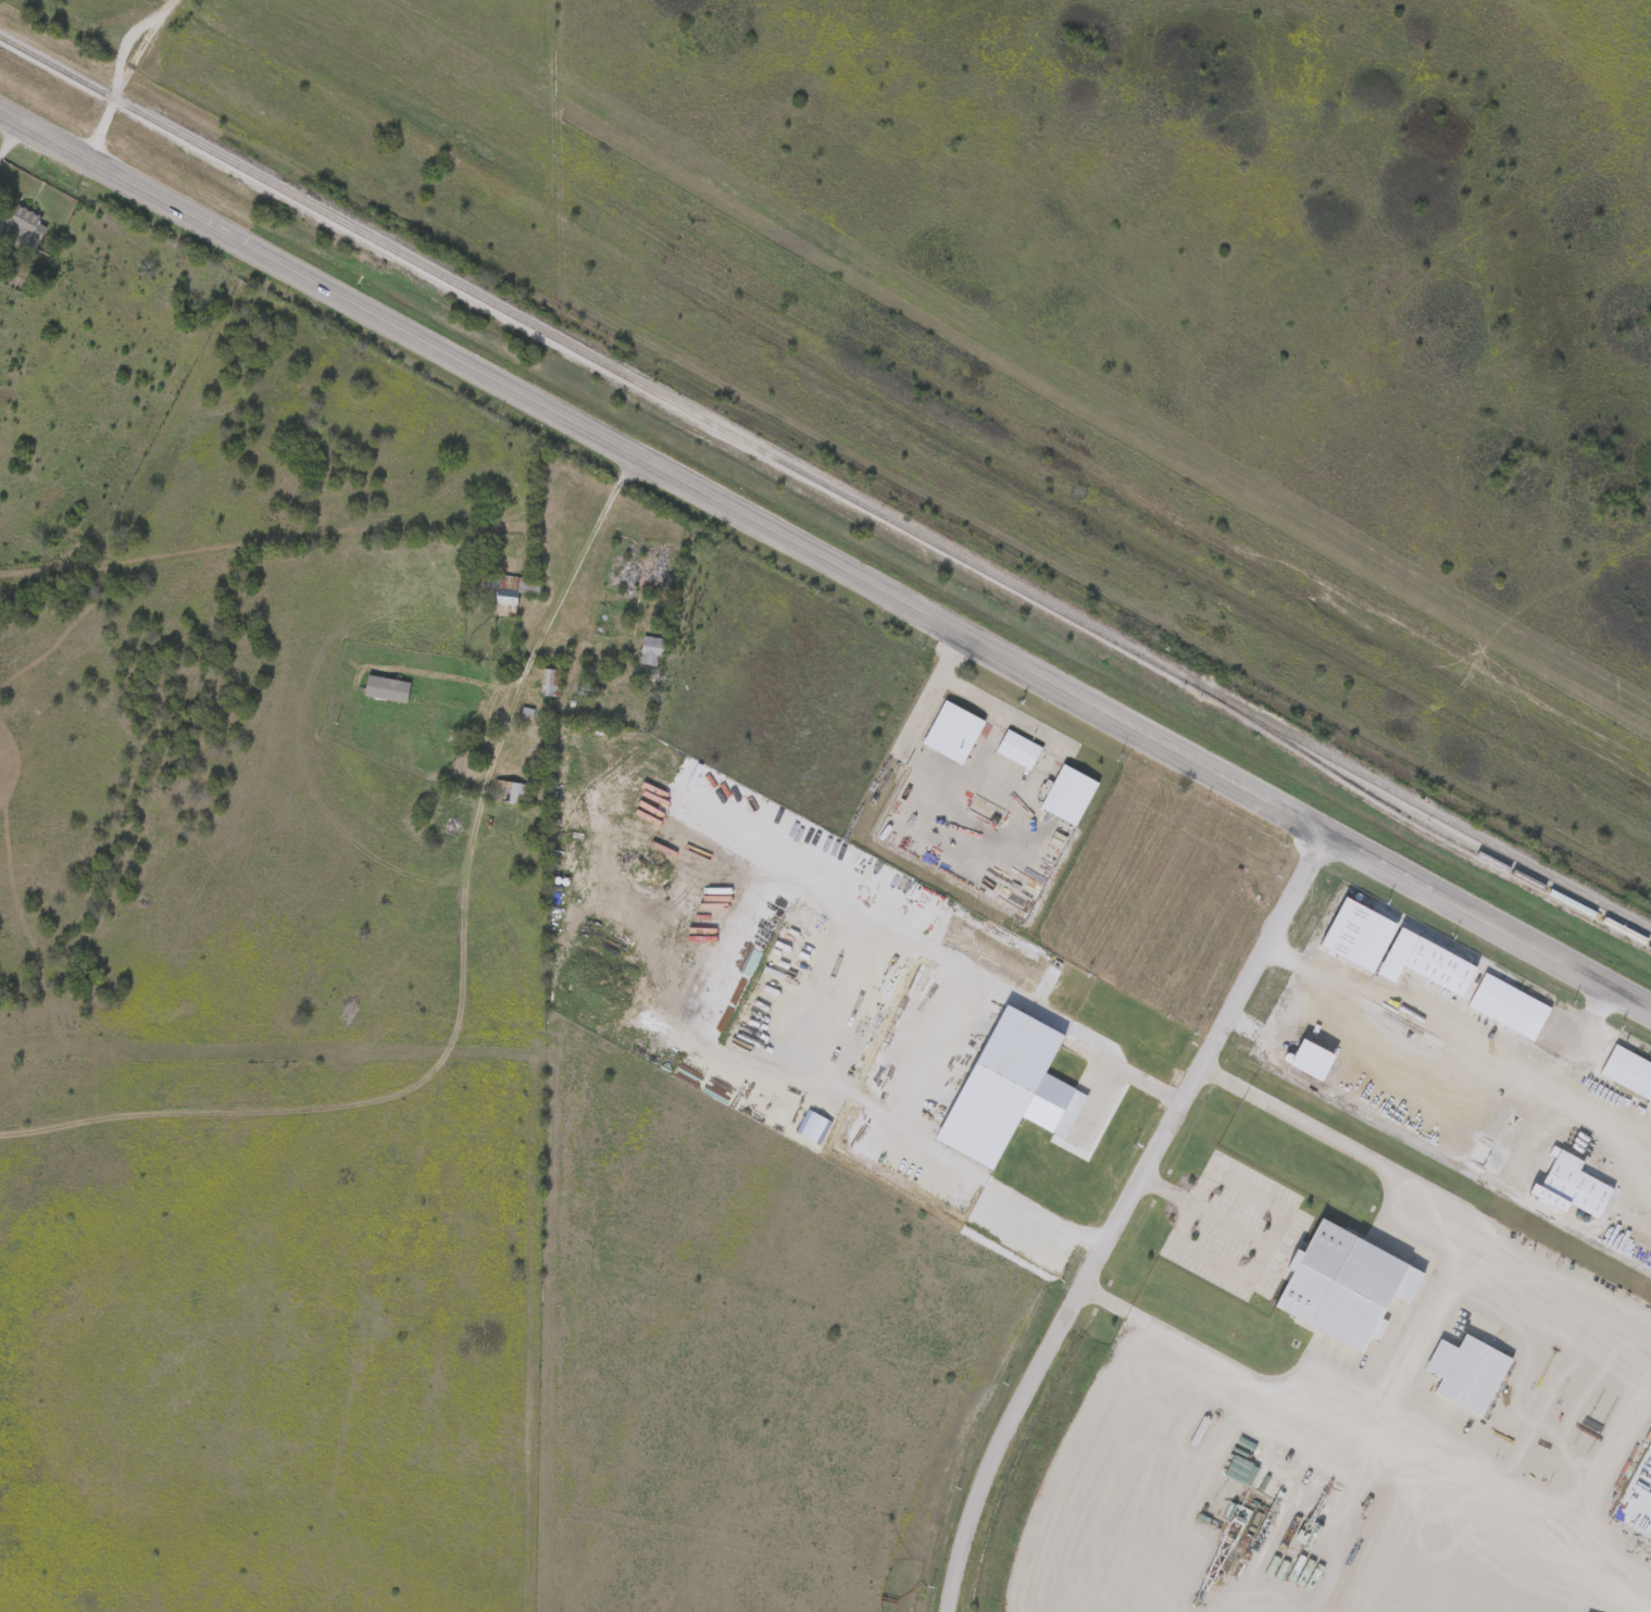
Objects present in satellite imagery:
road: (120, 75)
road: (7, 133)
building: (21, 227)
railway: (826, 482)
road: (826, 560)
building: (640, 568)
building: (506, 590)
road: (548, 600)
building: (651, 650)
road: (438, 666)
building: (548, 680)
building: (386, 688)
road: (929, 690)
road: (997, 715)
building: (509, 790)
building: (985, 809)
railway: (1431, 827)
building: (1035, 866)
road: (1580, 1025)
road: (811, 1033)
road: (1473, 1044)
road: (1104, 1070)
road: (1550, 1076)
road: (1283, 1213)
road: (1117, 1215)
road: (1427, 1315)

